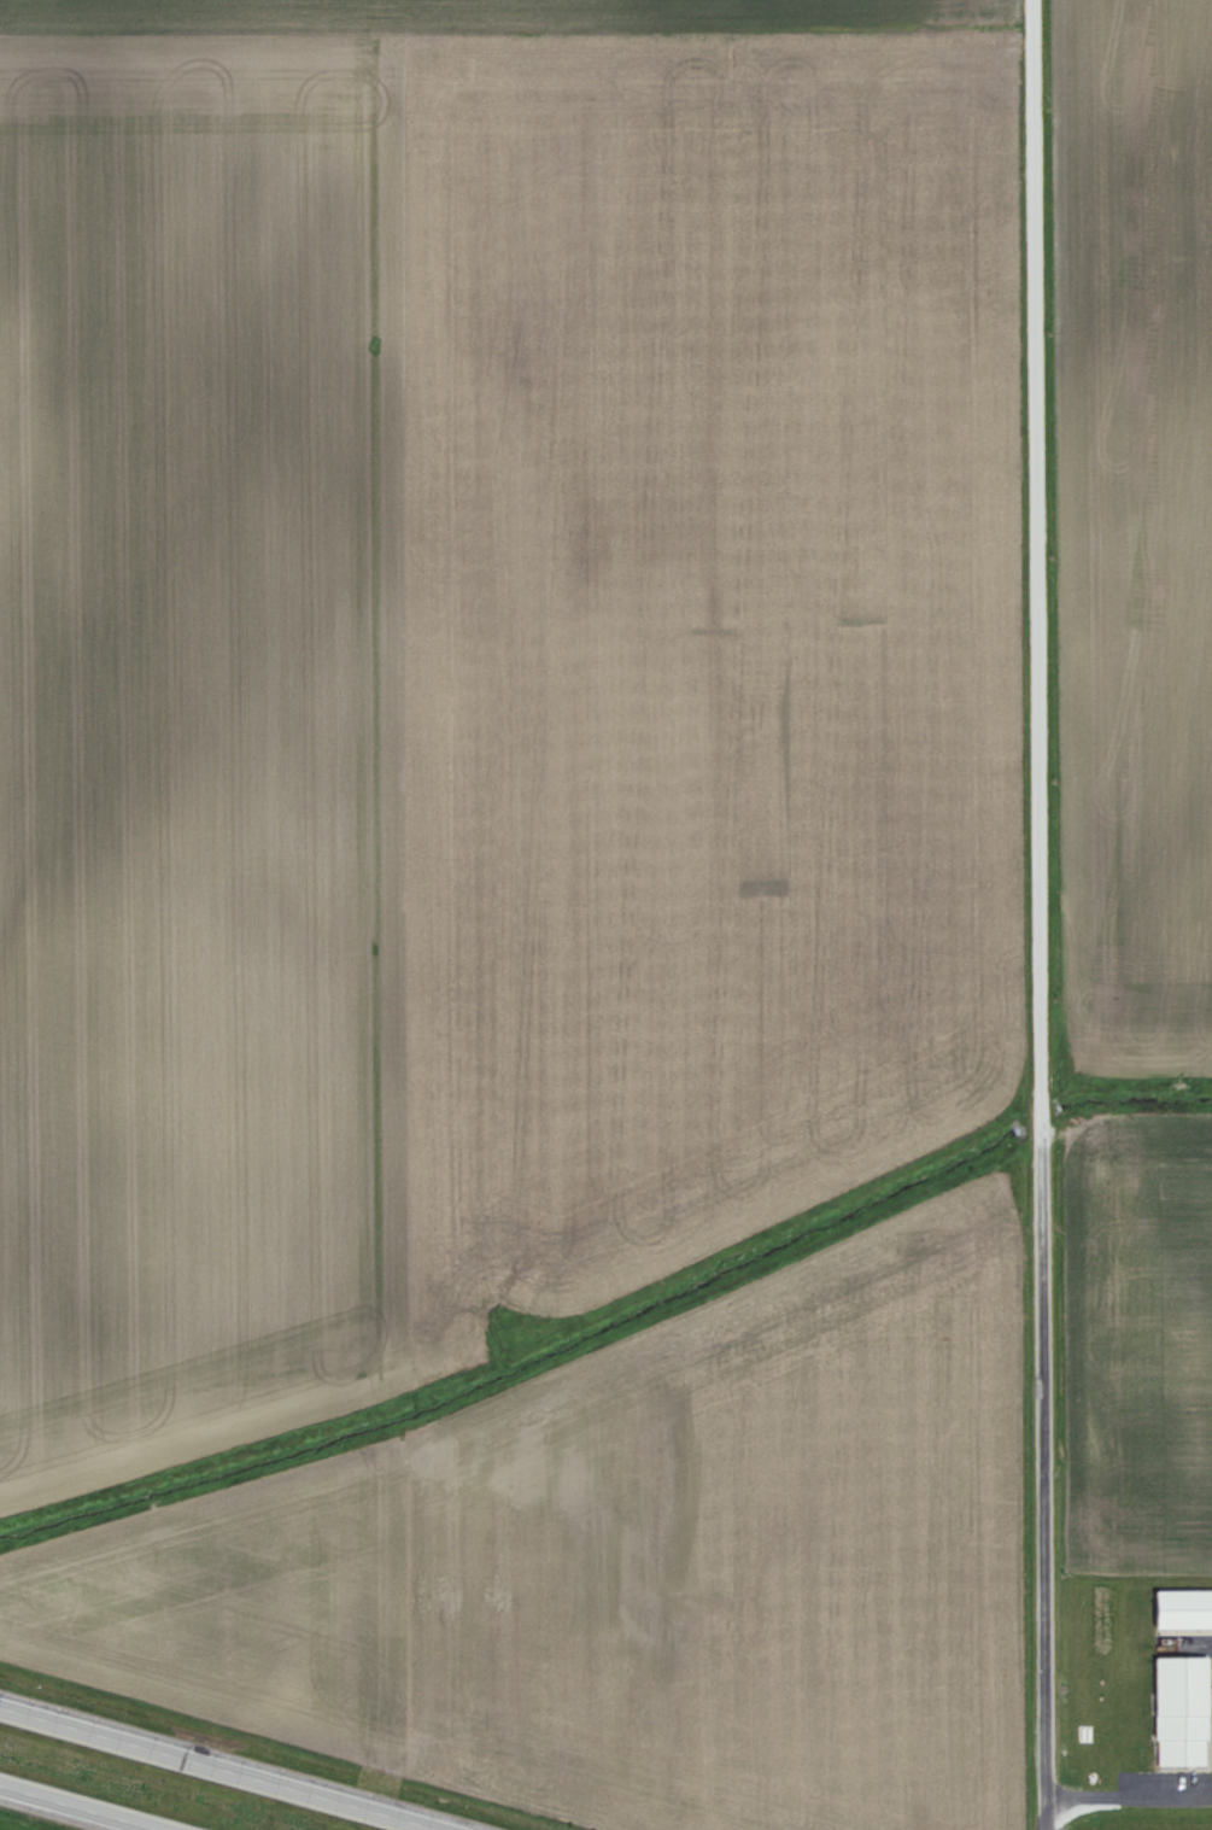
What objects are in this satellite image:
road: (1046, 914)
building: (1182, 1610)
building: (1179, 1713)
road: (221, 1767)
road: (1130, 1800)
road: (64, 1809)

